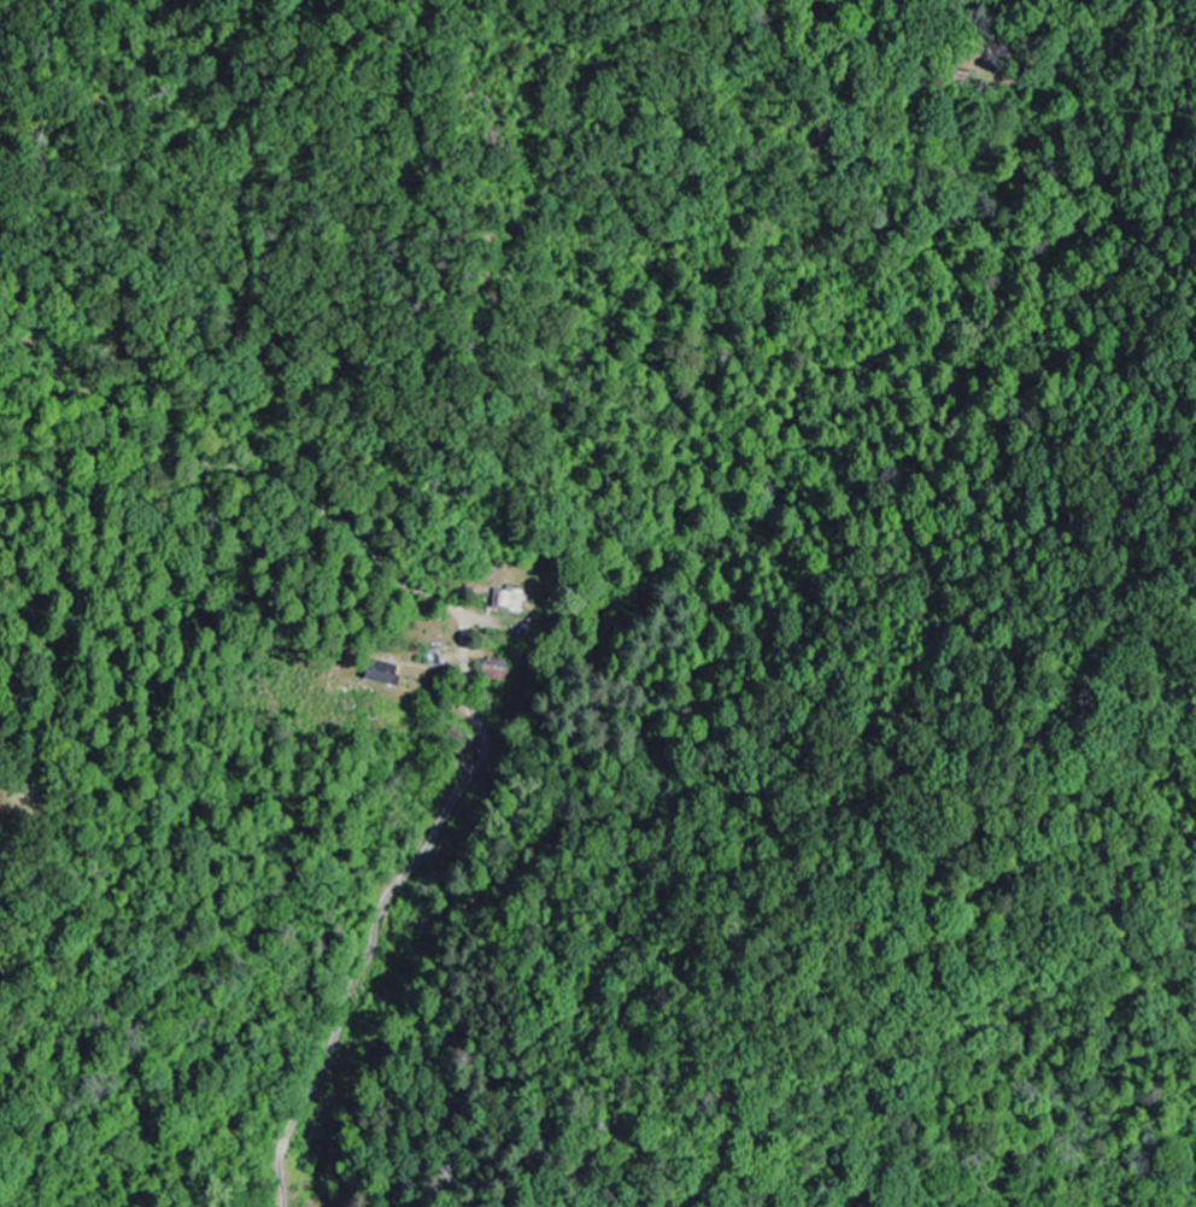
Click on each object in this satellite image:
building: (508, 599)
road: (463, 666)
building: (382, 673)

